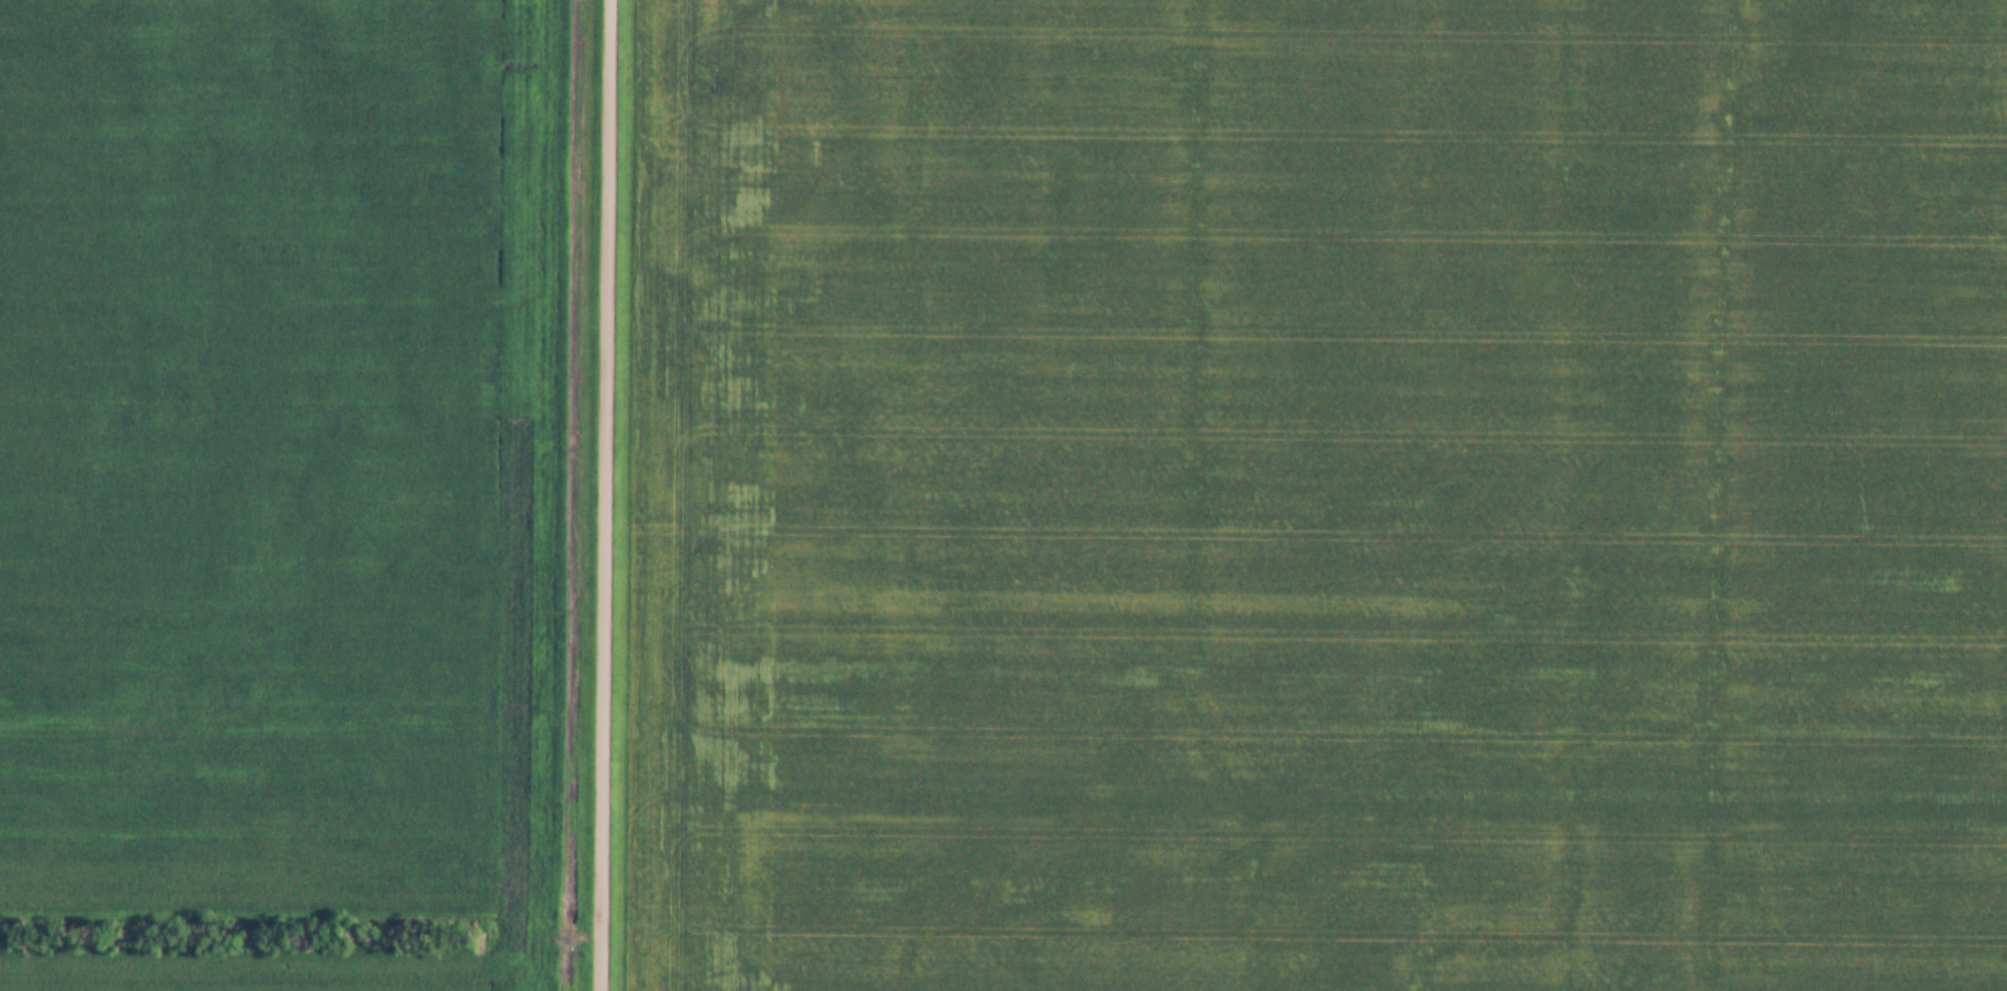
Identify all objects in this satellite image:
road: (606, 495)

